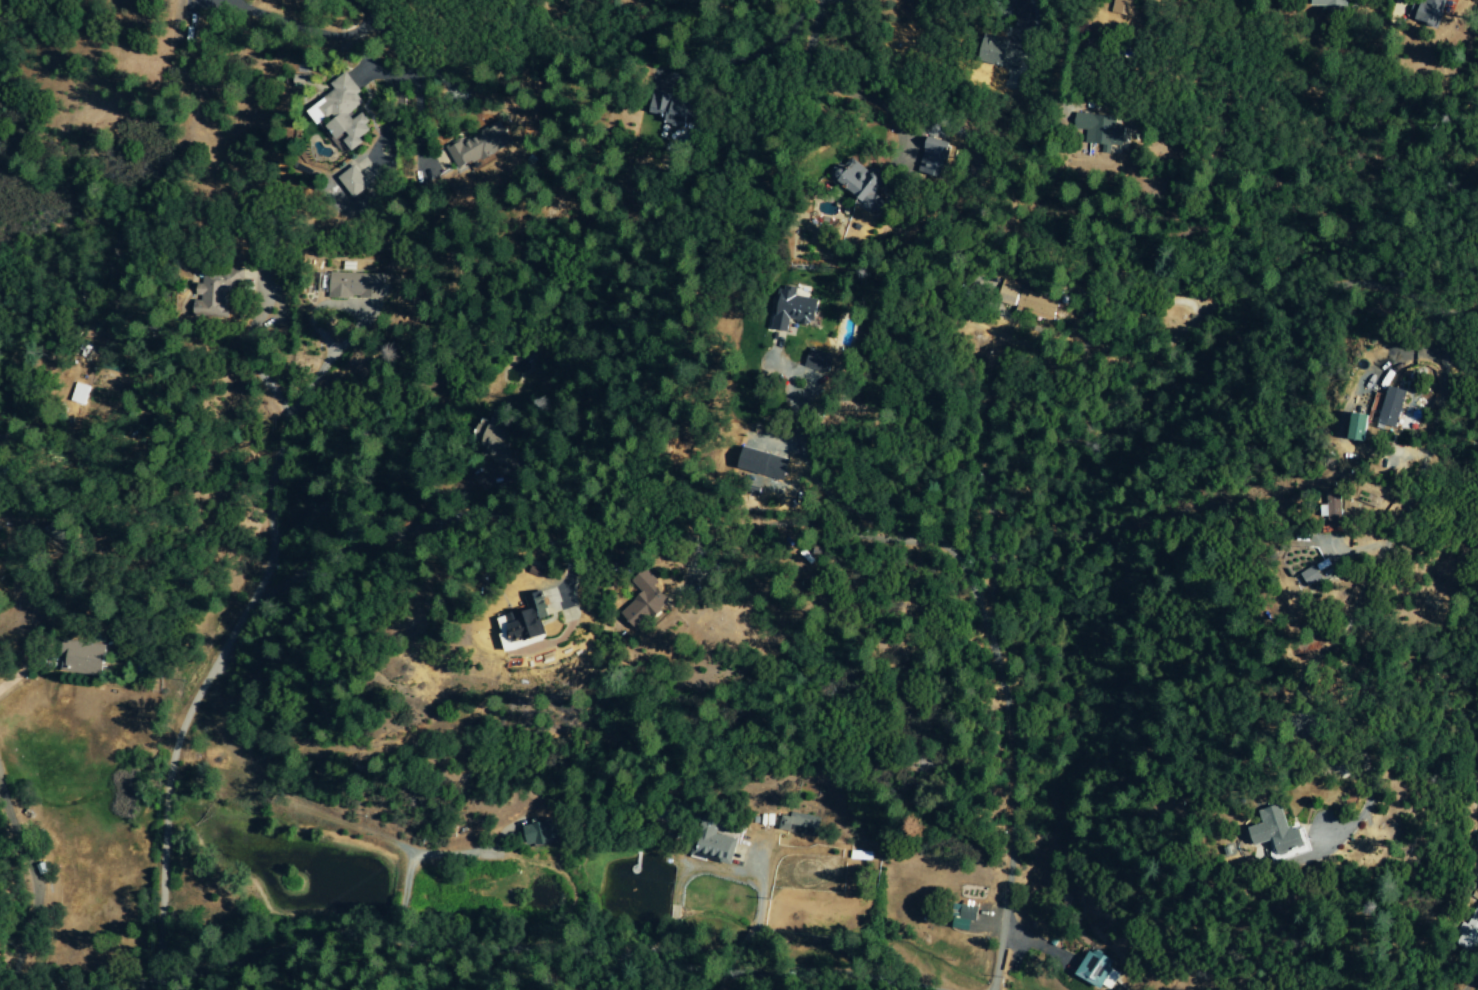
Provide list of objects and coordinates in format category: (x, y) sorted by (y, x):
building: (1326, 3)
building: (1124, 7)
building: (195, 8)
building: (1425, 12)
road: (1016, 14)
road: (381, 34)
building: (673, 109)
building: (341, 114)
building: (1101, 130)
building: (479, 146)
building: (935, 156)
building: (365, 168)
building: (353, 181)
building: (859, 181)
building: (357, 285)
building: (214, 299)
building: (793, 309)
road: (253, 357)
building: (818, 361)
building: (1399, 407)
building: (1364, 427)
building: (493, 442)
building: (764, 464)
building: (1333, 506)
road: (815, 518)
road: (370, 543)
building: (1317, 573)
building: (650, 602)
building: (534, 621)
road: (205, 675)
building: (800, 825)
building: (1270, 831)
building: (539, 833)
building: (1476, 839)
building: (715, 846)
road: (33, 885)
building: (964, 918)
road: (371, 920)
building: (1469, 931)
road: (527, 955)
building: (1092, 969)
road: (994, 978)

